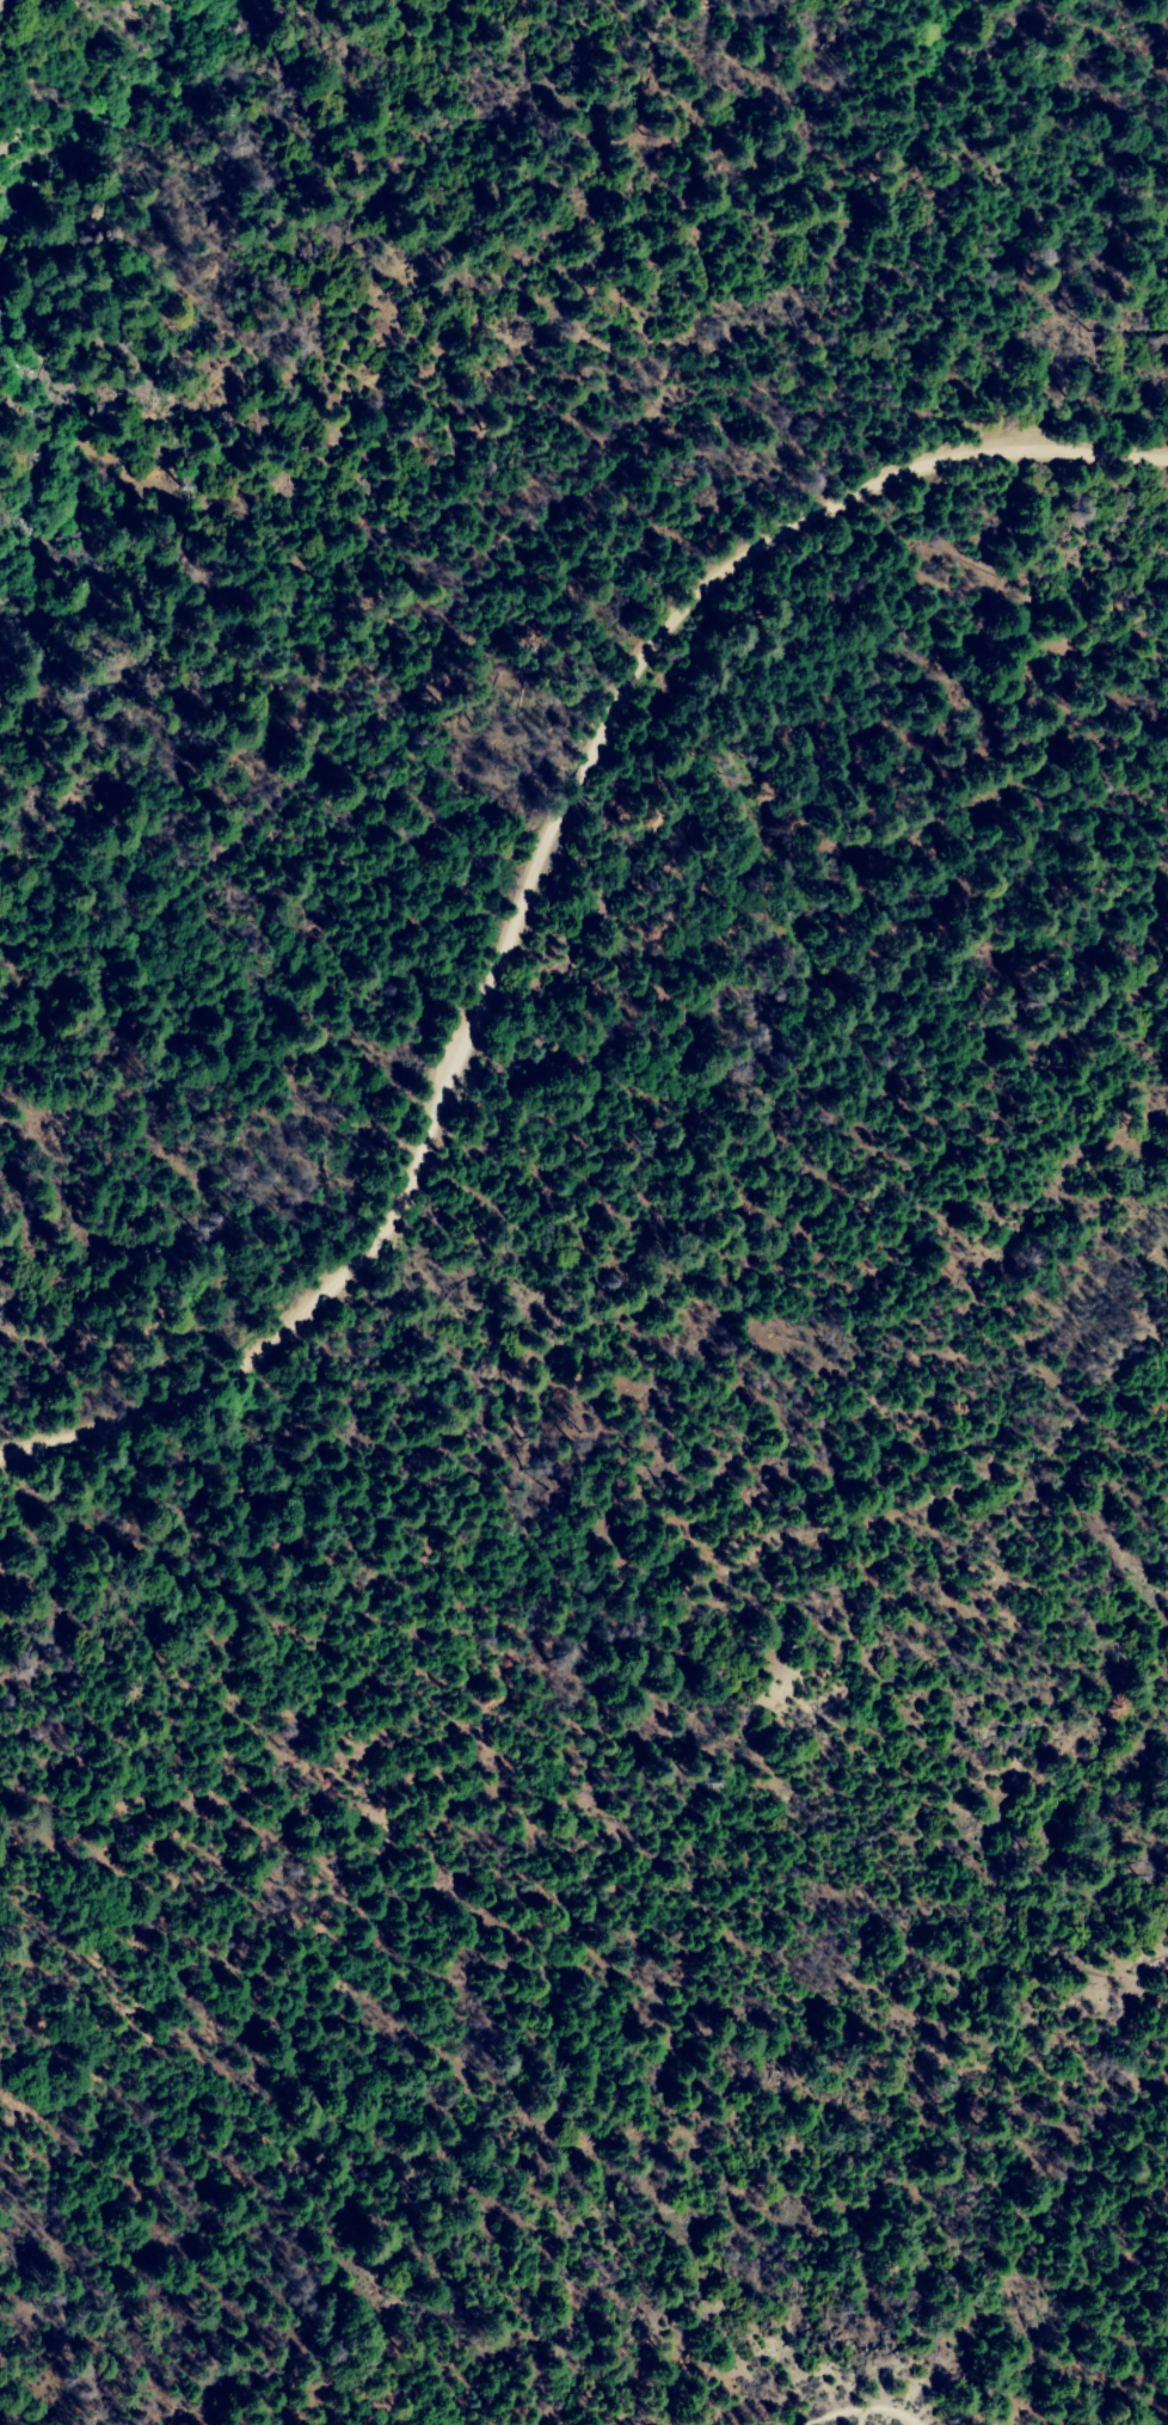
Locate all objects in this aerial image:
road: (541, 892)

